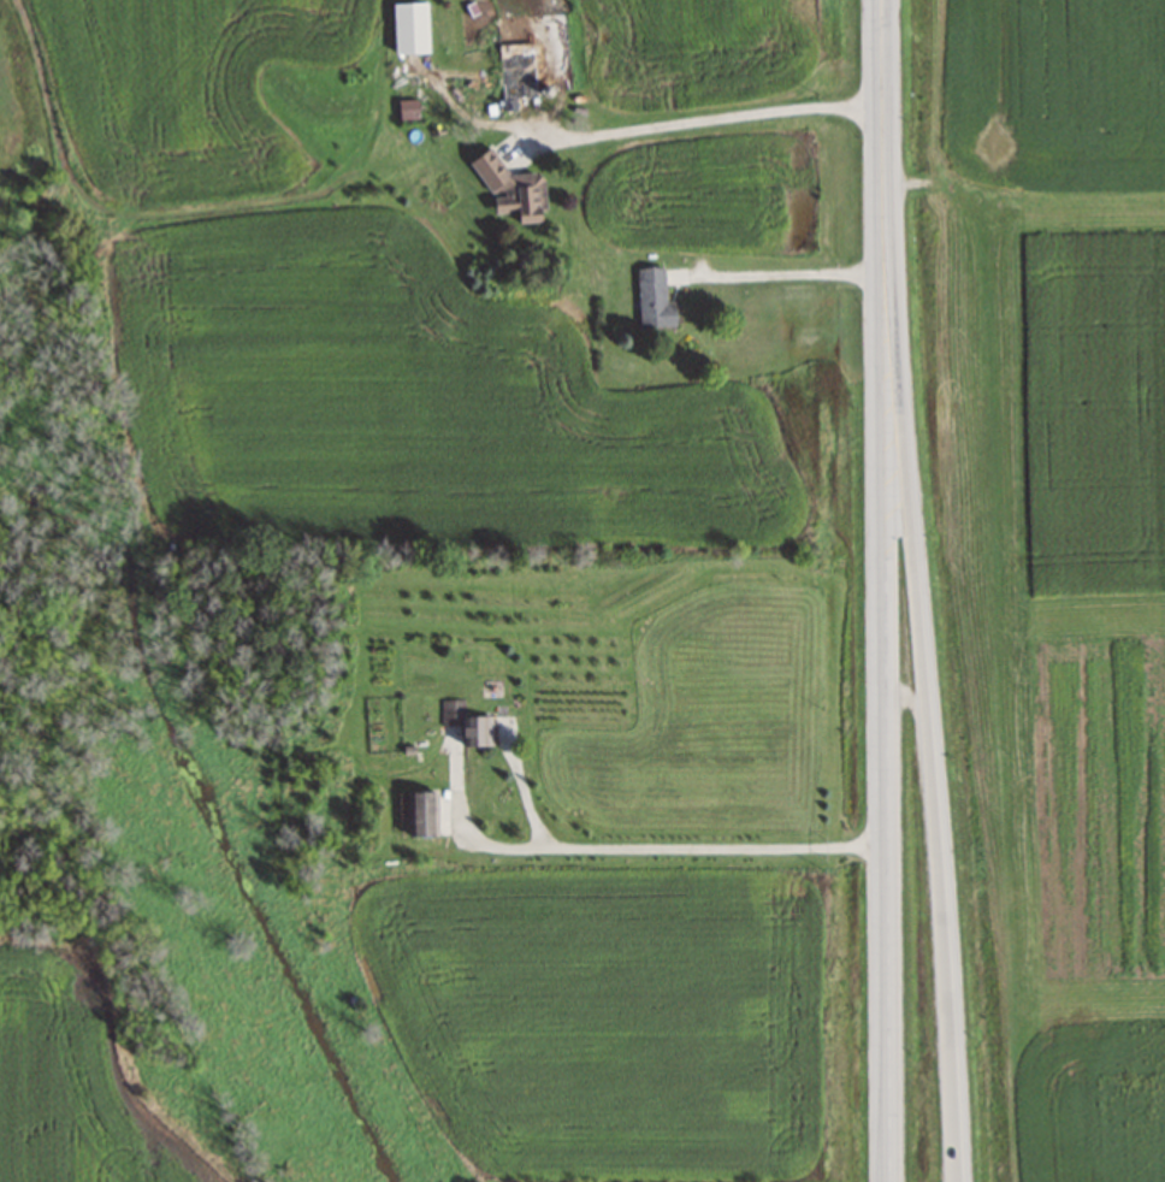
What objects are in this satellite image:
building: (409, 28)
building: (516, 70)
building: (406, 108)
road: (699, 119)
road: (885, 172)
building: (513, 190)
road: (779, 272)
building: (654, 299)
building: (467, 723)
road: (930, 762)
road: (887, 763)
building: (418, 814)

